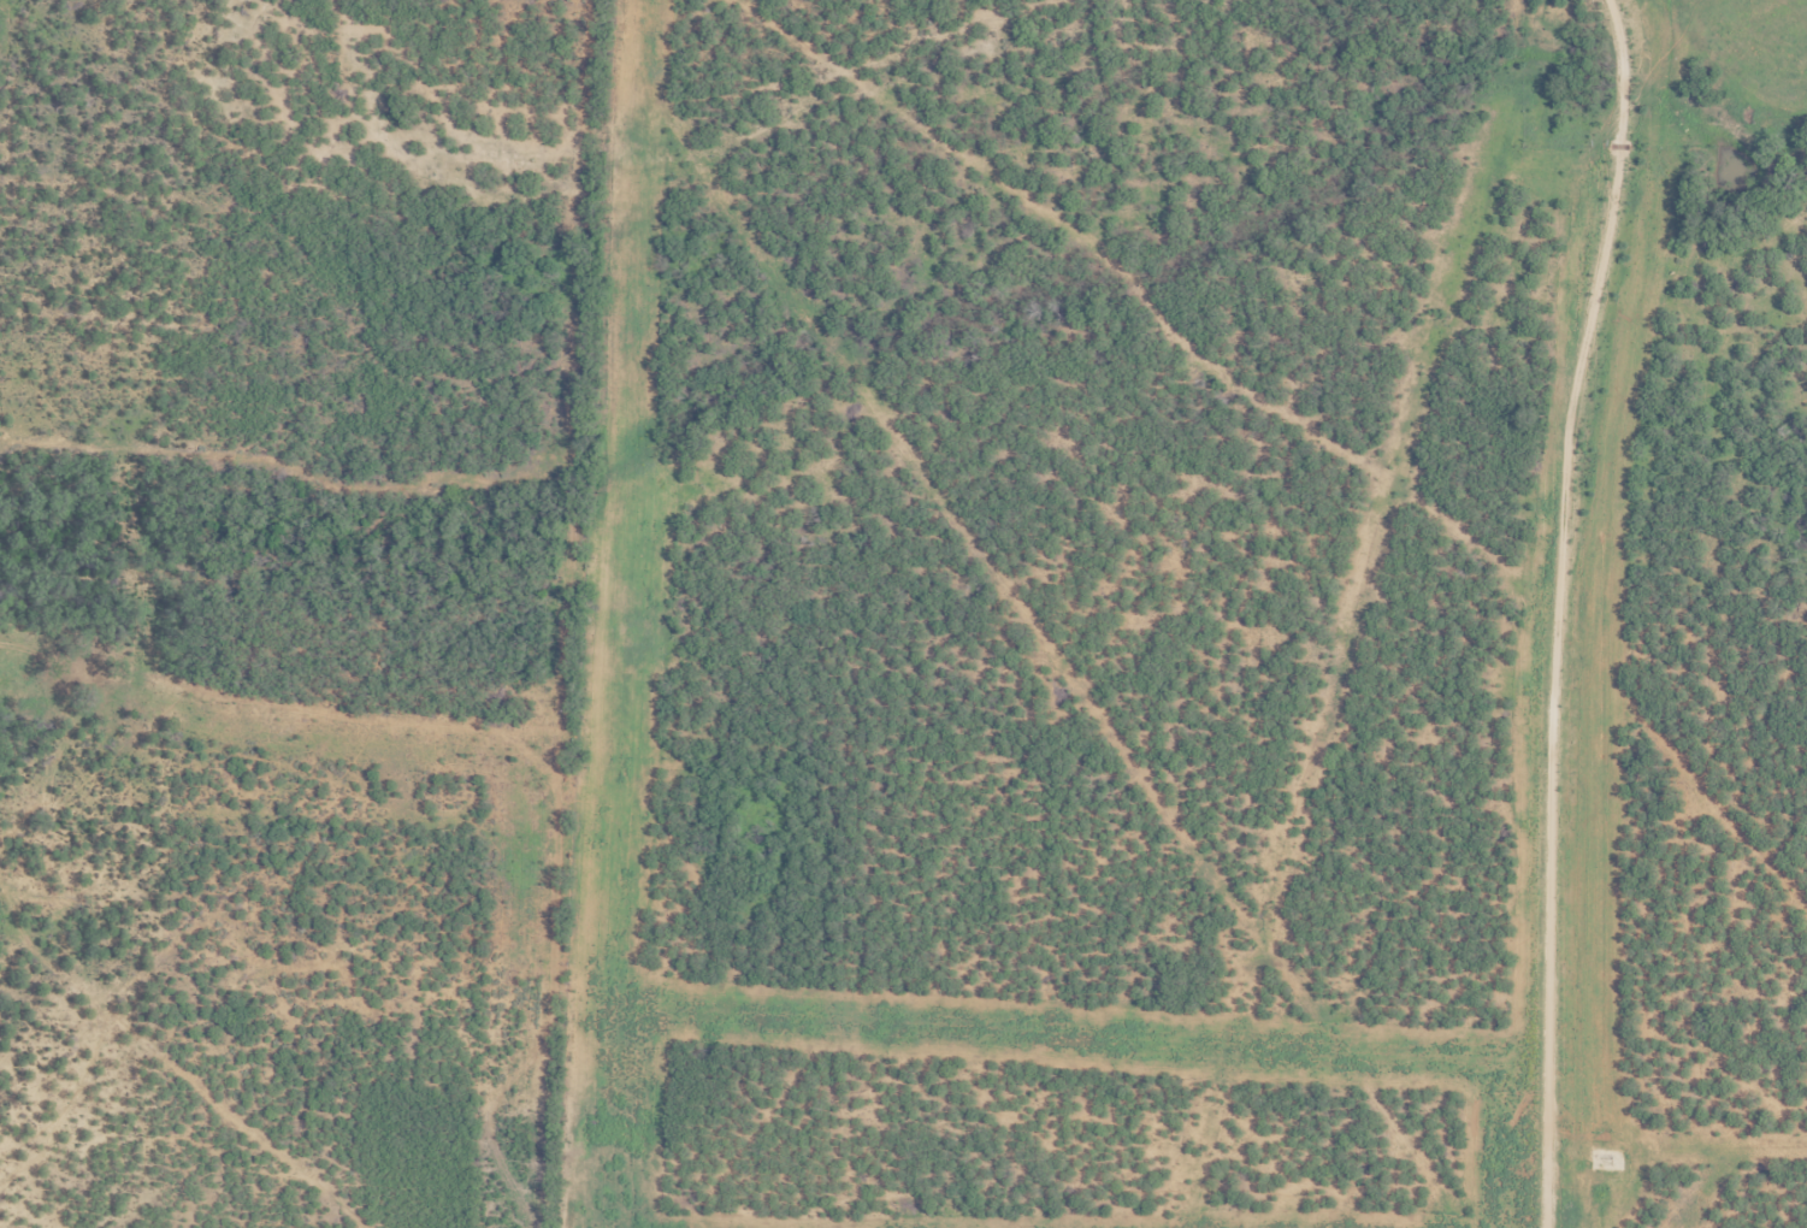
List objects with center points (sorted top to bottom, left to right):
road: (1622, 73)

